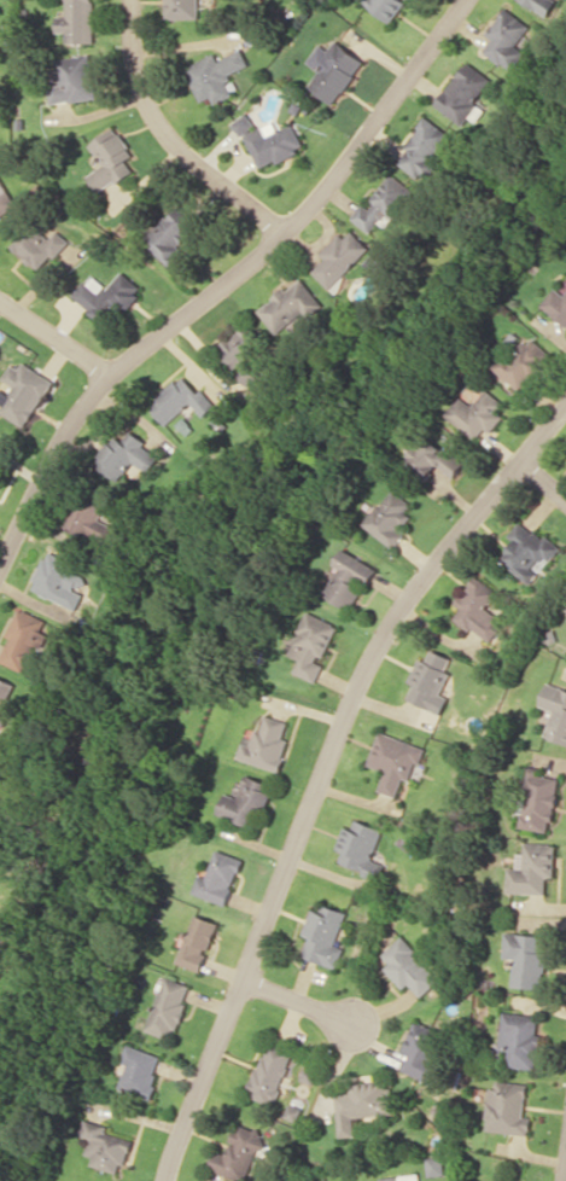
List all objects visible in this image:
building: (409, 0)
building: (543, 5)
building: (386, 7)
building: (183, 8)
building: (78, 21)
building: (506, 40)
building: (333, 69)
building: (216, 75)
building: (74, 78)
building: (465, 93)
road: (179, 130)
building: (269, 140)
building: (424, 149)
building: (110, 158)
building: (5, 199)
building: (383, 204)
building: (168, 235)
building: (41, 244)
building: (340, 257)
building: (377, 261)
road: (216, 281)
building: (105, 295)
building: (556, 303)
building: (291, 306)
road: (49, 342)
building: (241, 351)
building: (524, 361)
building: (23, 391)
building: (180, 400)
building: (477, 413)
building: (127, 455)
building: (432, 456)
road: (544, 482)
building: (389, 517)
building: (91, 520)
river: (223, 551)
building: (527, 551)
building: (349, 578)
building: (60, 580)
building: (478, 609)
building: (24, 639)
building: (314, 645)
building: (430, 680)
building: (5, 699)
building: (555, 710)
building: (267, 743)
building: (395, 760)
road: (322, 772)
building: (539, 799)
building: (247, 802)
building: (360, 848)
building: (533, 867)
building: (218, 877)
building: (323, 935)
building: (198, 942)
building: (527, 958)
building: (409, 967)
road: (300, 1001)
building: (169, 1007)
building: (520, 1039)
building: (422, 1053)
building: (140, 1070)
building: (270, 1071)
building: (363, 1104)
building: (508, 1107)
building: (105, 1146)
building: (239, 1152)
building: (436, 1165)
road: (564, 1175)
building: (401, 1177)

